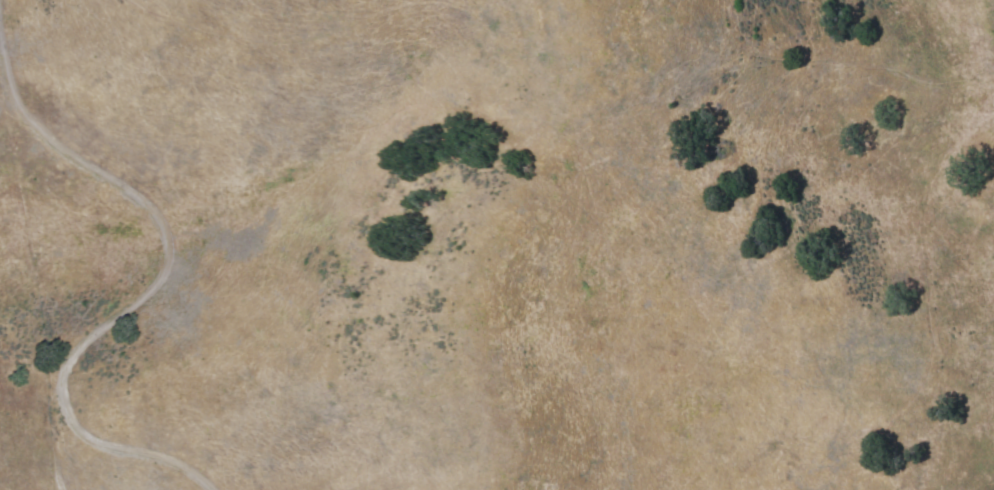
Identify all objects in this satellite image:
road: (139, 293)

